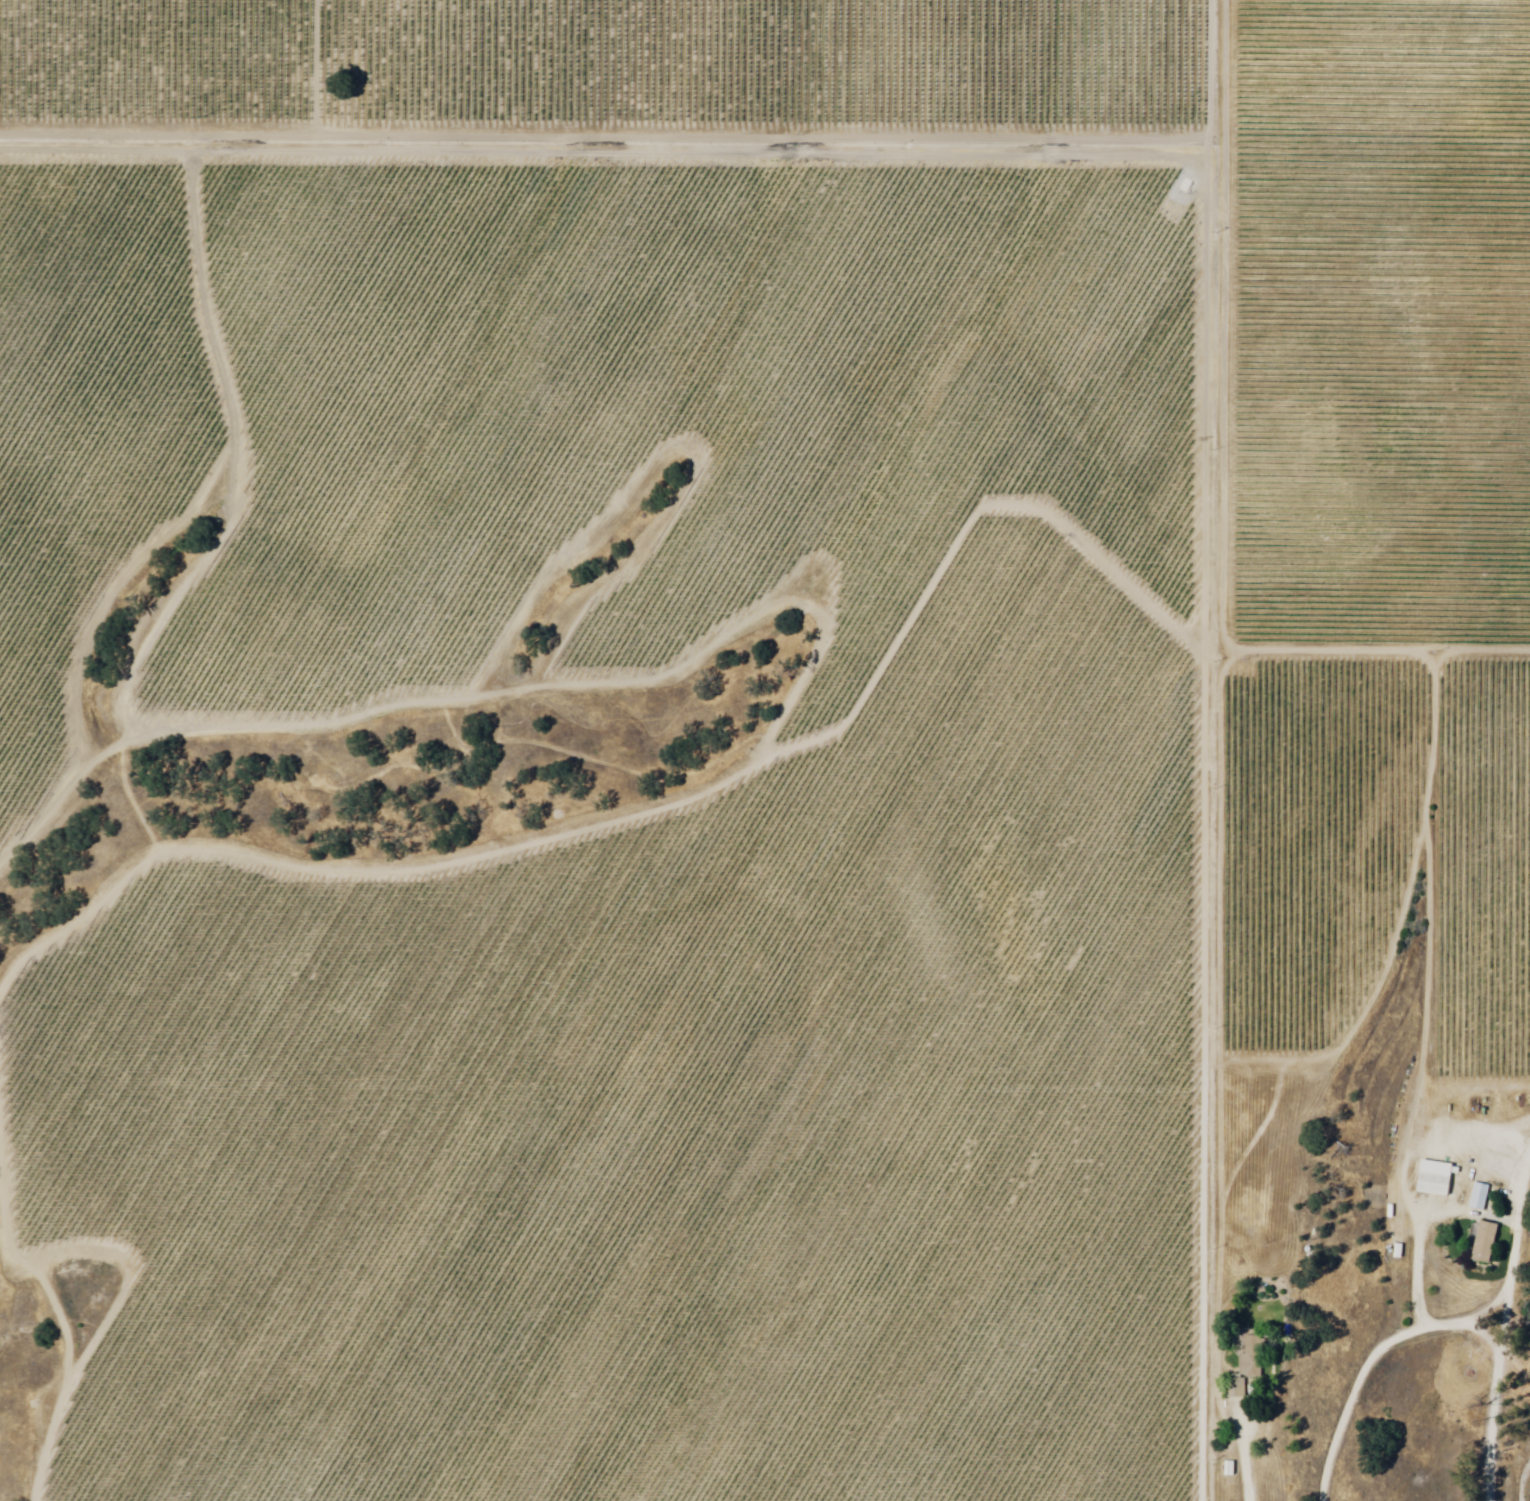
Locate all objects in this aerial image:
building: (1436, 1179)
building: (1481, 1198)
building: (1486, 1246)
building: (1248, 1369)
road: (1493, 1385)
building: (1231, 1469)

